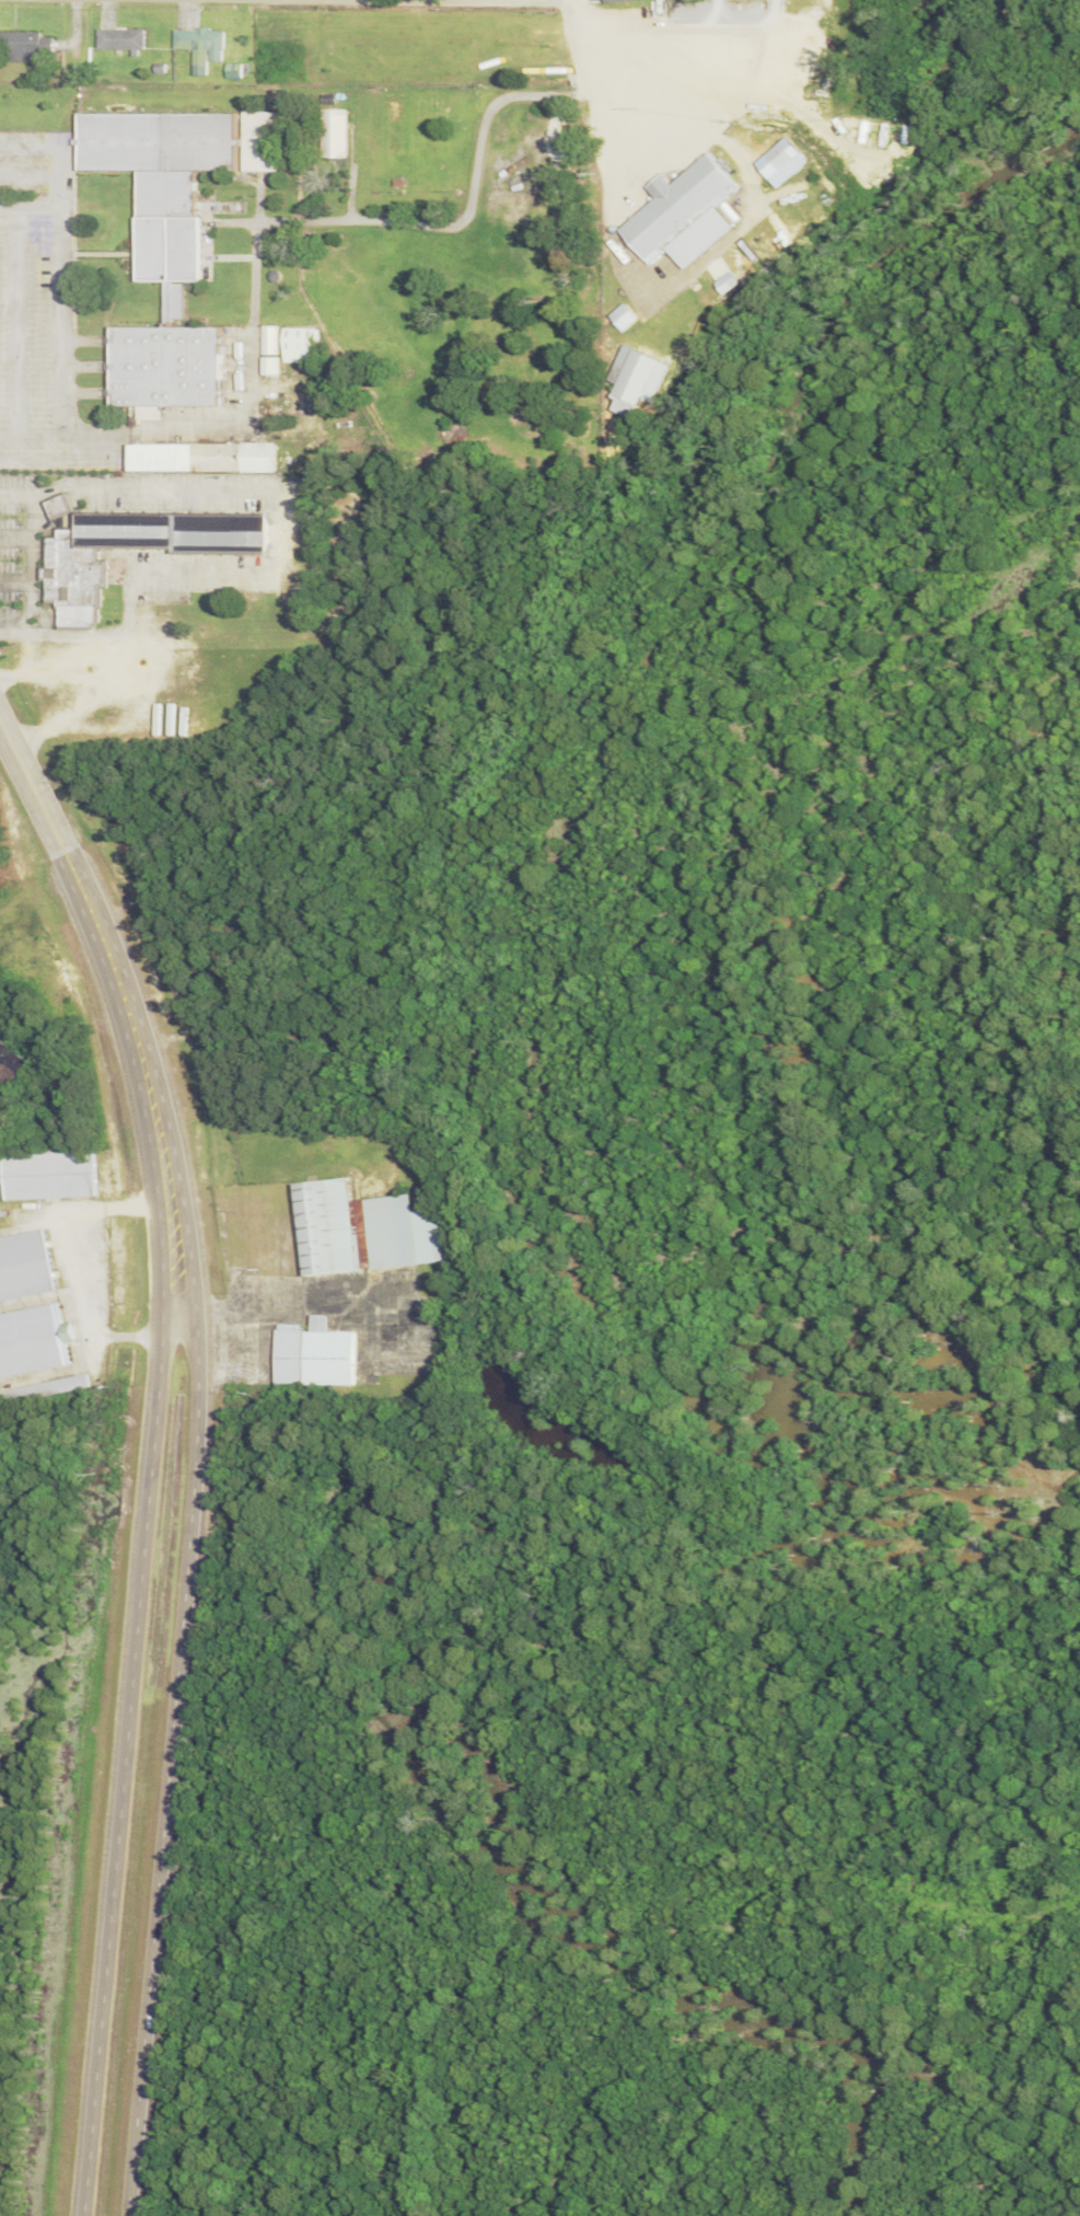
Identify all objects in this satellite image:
road: (587, 49)
road: (127, 996)
road: (162, 1759)
road: (127, 1761)

